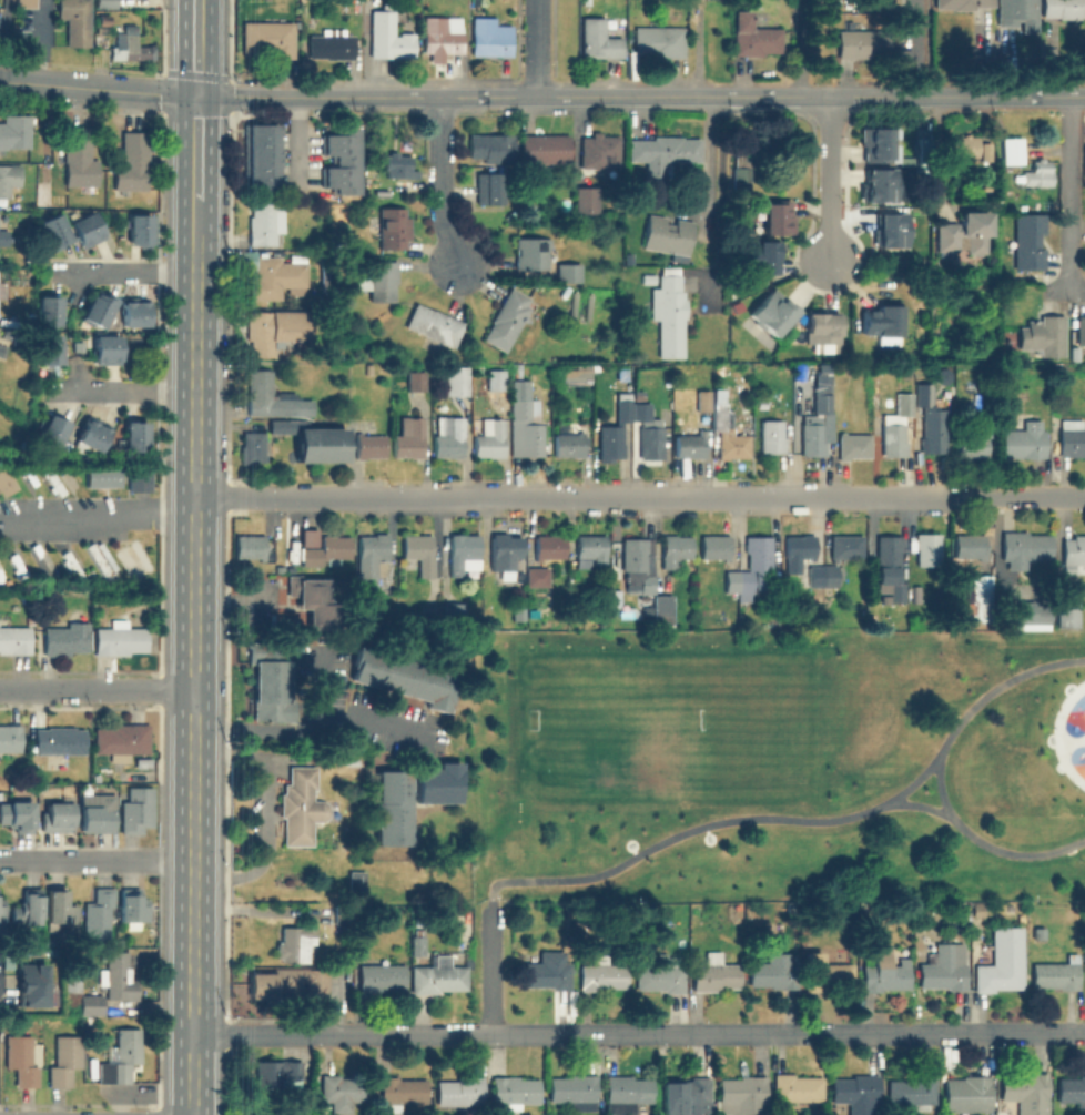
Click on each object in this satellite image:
building: (27, 2)
building: (830, 4)
building: (960, 4)
building: (107, 7)
building: (1063, 8)
building: (1016, 14)
building: (0, 19)
building: (75, 20)
building: (442, 37)
building: (754, 37)
building: (270, 38)
building: (387, 38)
building: (490, 38)
building: (599, 40)
building: (660, 40)
road: (40, 42)
building: (864, 42)
building: (333, 44)
building: (131, 48)
road: (196, 48)
road: (802, 48)
road: (913, 48)
road: (535, 49)
road: (17, 82)
traffic signals: (196, 97)
road: (199, 97)
road: (724, 97)
building: (14, 130)
building: (880, 144)
building: (963, 145)
building: (758, 146)
road: (195, 148)
building: (488, 148)
building: (545, 148)
building: (598, 150)
building: (1011, 151)
building: (662, 152)
building: (260, 155)
building: (80, 158)
building: (737, 158)
building: (339, 159)
building: (133, 161)
building: (397, 165)
building: (1038, 173)
building: (9, 178)
building: (740, 179)
road: (828, 180)
road: (439, 182)
building: (878, 185)
building: (486, 187)
road: (1069, 197)
building: (585, 201)
road: (709, 203)
building: (779, 216)
road: (195, 220)
building: (264, 220)
building: (88, 226)
building: (389, 226)
building: (141, 227)
building: (55, 229)
building: (891, 230)
building: (963, 232)
building: (667, 234)
building: (2, 236)
building: (1027, 240)
building: (530, 253)
building: (763, 255)
building: (567, 271)
road: (123, 272)
building: (323, 272)
building: (274, 276)
building: (377, 278)
building: (648, 278)
building: (99, 305)
building: (49, 306)
building: (135, 310)
building: (771, 312)
building: (669, 314)
building: (506, 318)
building: (882, 320)
building: (433, 326)
building: (1081, 328)
building: (822, 330)
building: (278, 333)
building: (1043, 334)
building: (50, 346)
building: (109, 347)
building: (0, 349)
building: (1073, 354)
building: (823, 369)
building: (1058, 373)
building: (572, 376)
building: (495, 378)
building: (416, 379)
building: (454, 381)
road: (122, 391)
building: (923, 393)
building: (272, 397)
building: (702, 399)
building: (762, 402)
building: (822, 402)
building: (904, 403)
building: (977, 404)
building: (620, 426)
building: (524, 429)
building: (55, 430)
building: (932, 430)
building: (728, 433)
building: (95, 434)
building: (138, 435)
building: (448, 436)
building: (772, 436)
building: (1071, 436)
building: (408, 437)
building: (489, 437)
building: (814, 439)
building: (893, 439)
building: (310, 440)
building: (1024, 440)
building: (650, 442)
building: (690, 442)
building: (973, 442)
building: (569, 444)
building: (369, 445)
building: (854, 445)
building: (251, 446)
building: (107, 475)
building: (6, 476)
building: (142, 477)
road: (639, 498)
road: (97, 517)
building: (970, 545)
building: (253, 546)
building: (548, 546)
building: (714, 546)
building: (846, 546)
building: (590, 547)
building: (1022, 547)
building: (926, 548)
building: (677, 549)
building: (326, 550)
building: (419, 551)
building: (504, 551)
building: (463, 553)
building: (1074, 553)
building: (759, 559)
building: (371, 560)
building: (793, 560)
building: (103, 562)
building: (636, 562)
building: (134, 564)
building: (72, 565)
building: (890, 566)
building: (20, 567)
building: (536, 575)
building: (738, 581)
building: (617, 584)
building: (917, 592)
building: (819, 596)
building: (980, 597)
road: (227, 598)
building: (316, 605)
building: (661, 610)
building: (1065, 611)
building: (455, 614)
building: (1032, 615)
building: (432, 617)
building: (489, 625)
building: (64, 638)
building: (120, 638)
building: (16, 639)
road: (193, 677)
building: (404, 677)
building: (272, 680)
road: (97, 691)
road: (306, 726)
building: (10, 737)
road: (1055, 737)
building: (60, 739)
building: (122, 740)
building: (144, 762)
park: (779, 764)
building: (439, 782)
building: (300, 804)
building: (394, 808)
road: (915, 809)
building: (138, 812)
road: (266, 812)
building: (99, 813)
building: (19, 814)
building: (58, 818)
road: (804, 821)
road: (985, 845)
road: (97, 861)
building: (357, 880)
building: (29, 908)
building: (62, 909)
building: (134, 909)
building: (977, 909)
building: (2, 912)
building: (100, 915)
building: (1038, 933)
building: (416, 937)
building: (294, 943)
building: (343, 955)
building: (1004, 963)
building: (945, 967)
road: (488, 970)
building: (547, 971)
building: (774, 971)
building: (885, 971)
building: (716, 972)
building: (825, 973)
building: (602, 974)
building: (661, 975)
building: (1055, 975)
building: (119, 976)
building: (382, 976)
building: (439, 976)
building: (1084, 976)
building: (73, 981)
building: (290, 982)
building: (34, 985)
building: (92, 1003)
road: (638, 1034)
building: (123, 1056)
building: (65, 1058)
building: (22, 1060)
building: (282, 1073)
building: (515, 1089)
building: (344, 1091)
building: (575, 1091)
building: (795, 1091)
building: (971, 1091)
building: (1073, 1091)
building: (460, 1092)
building: (400, 1093)
building: (627, 1093)
building: (859, 1093)
building: (912, 1093)
building: (1028, 1093)
building: (686, 1095)
building: (743, 1095)
building: (316, 1109)

